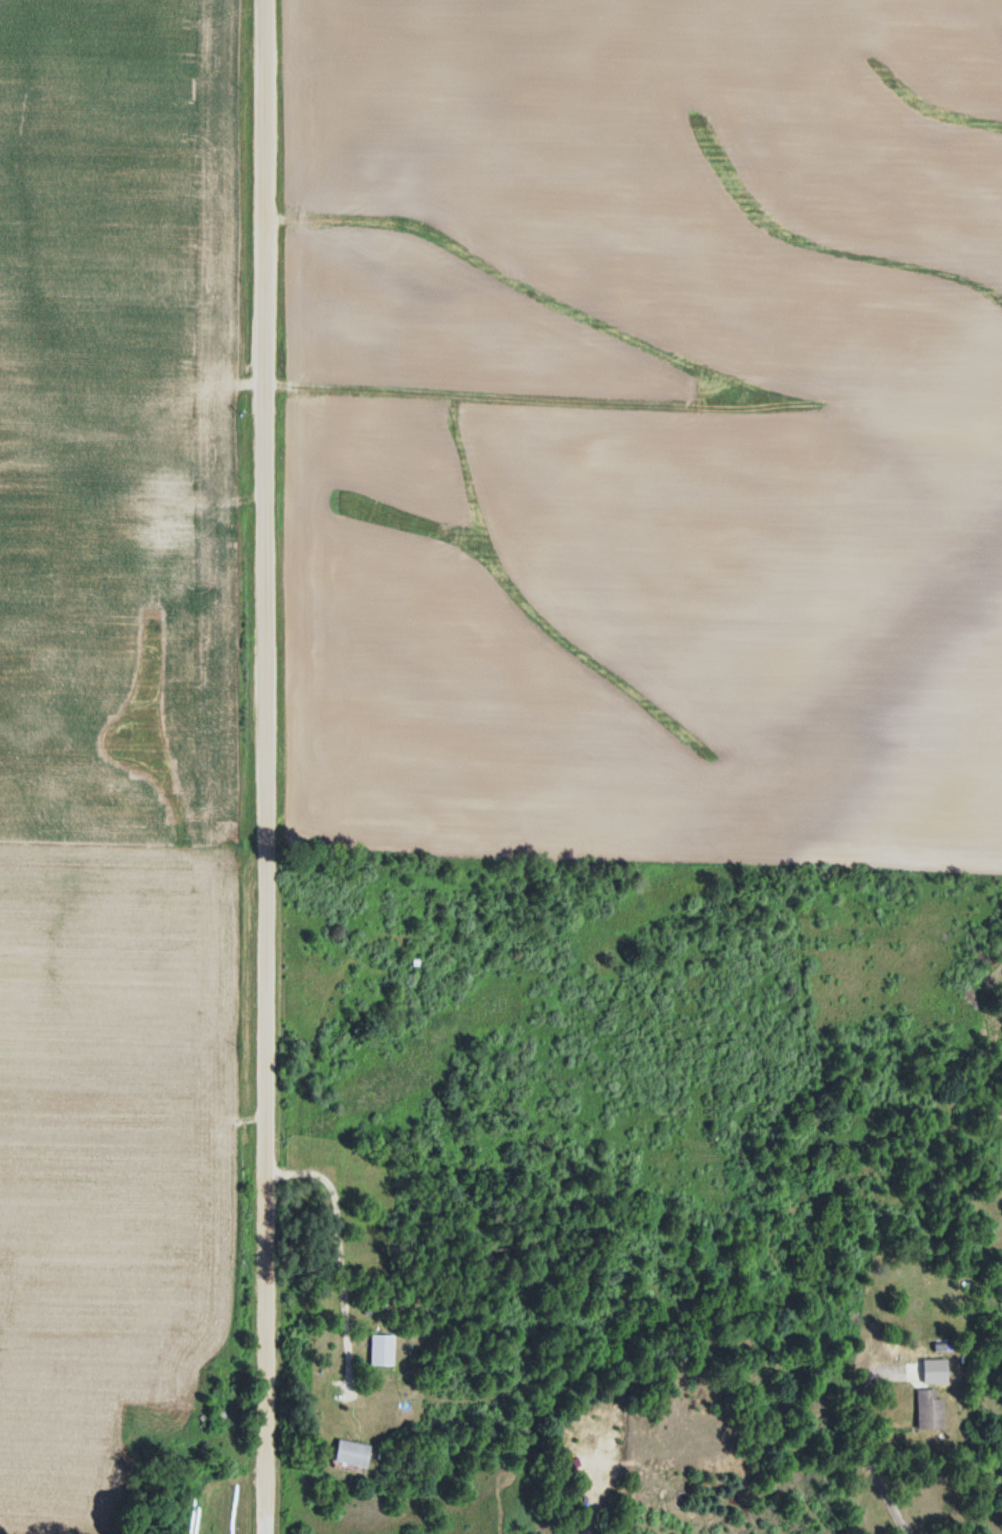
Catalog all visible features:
road: (246, 767)
building: (380, 1350)
building: (927, 1409)
building: (349, 1453)

